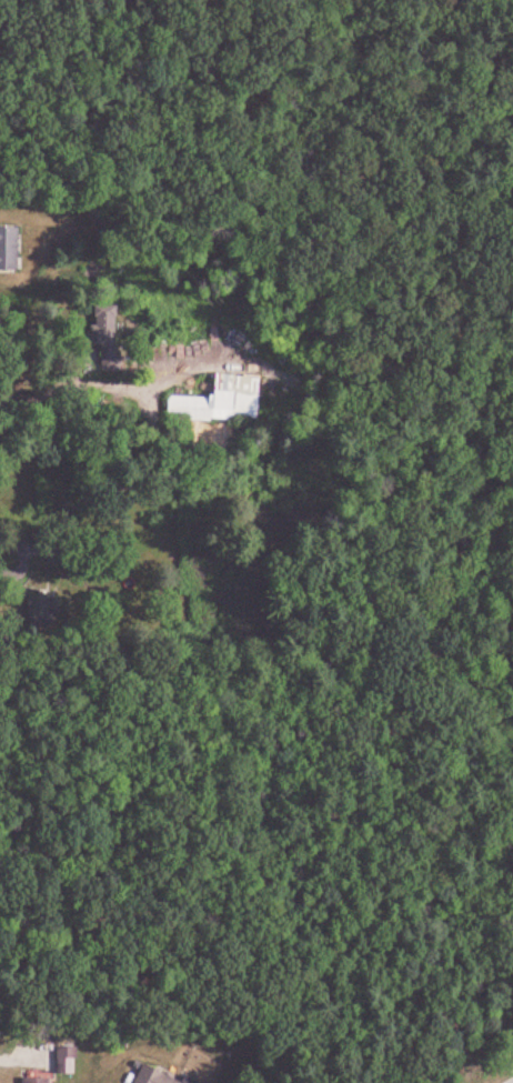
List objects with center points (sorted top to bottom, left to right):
building: (4, 248)
building: (100, 322)
building: (217, 401)
road: (21, 561)
building: (63, 1059)
building: (154, 1076)
building: (30, 1080)

